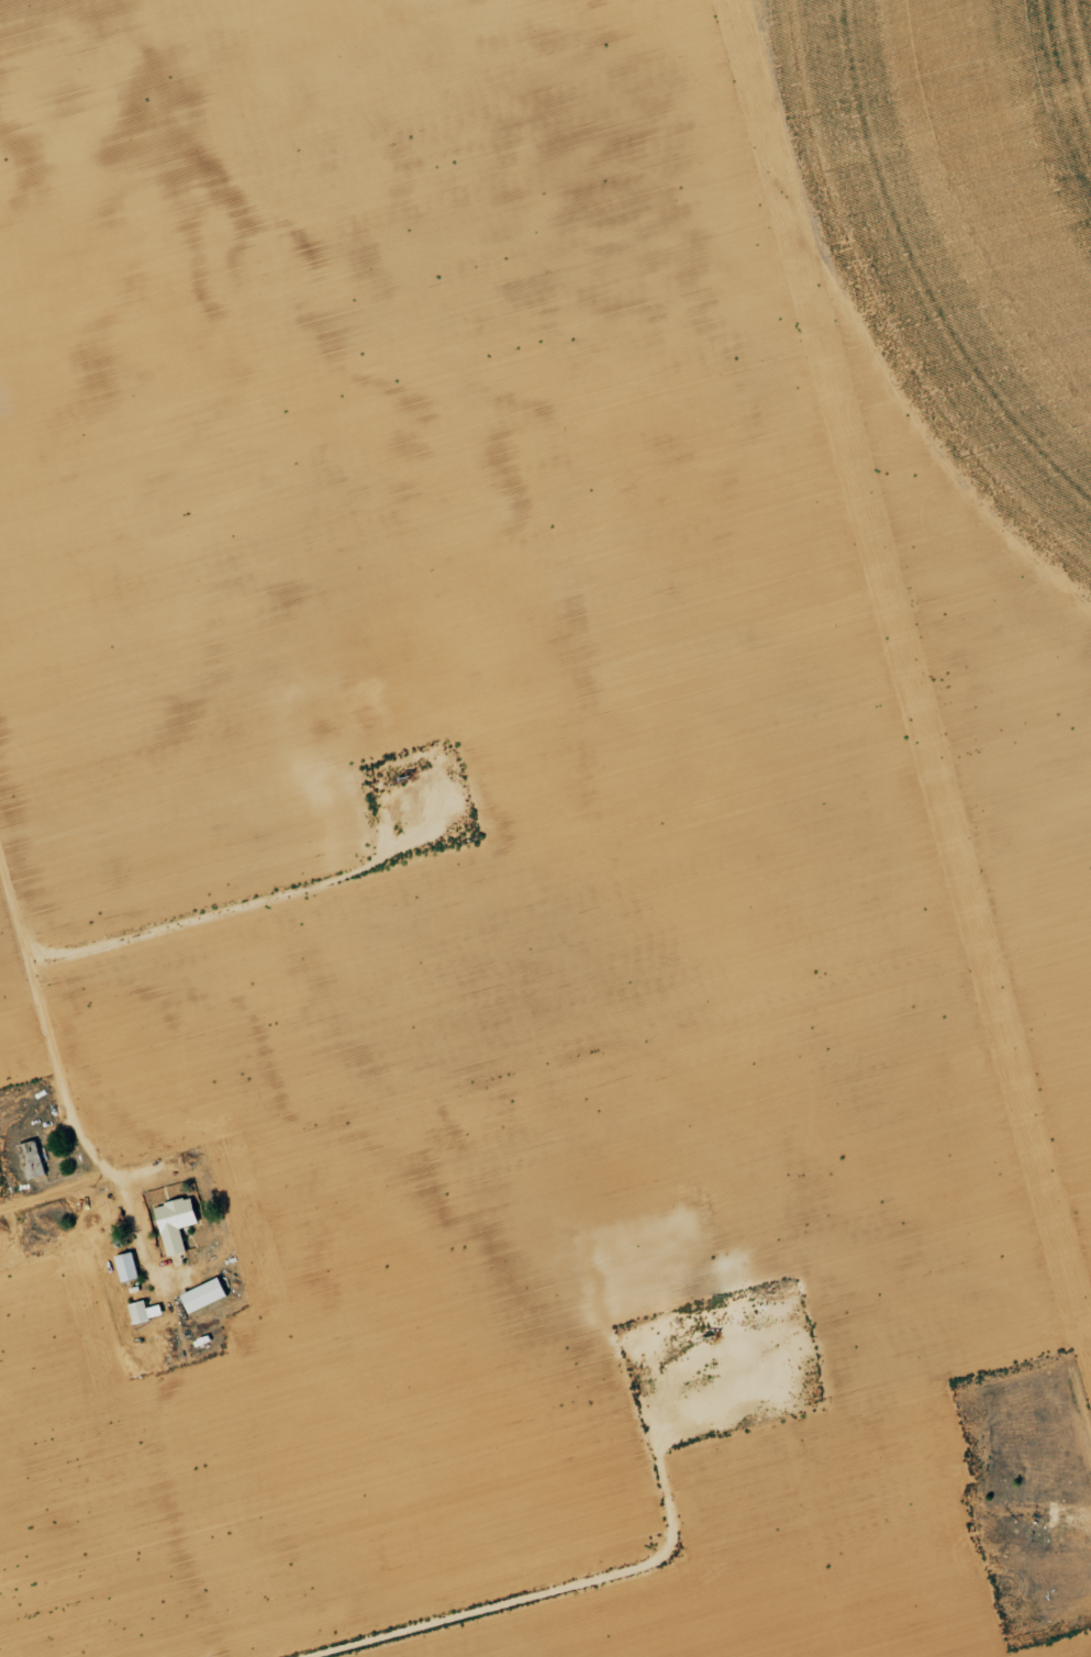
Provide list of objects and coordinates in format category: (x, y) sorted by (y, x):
road: (386, 1145)
building: (124, 1269)
building: (201, 1298)

